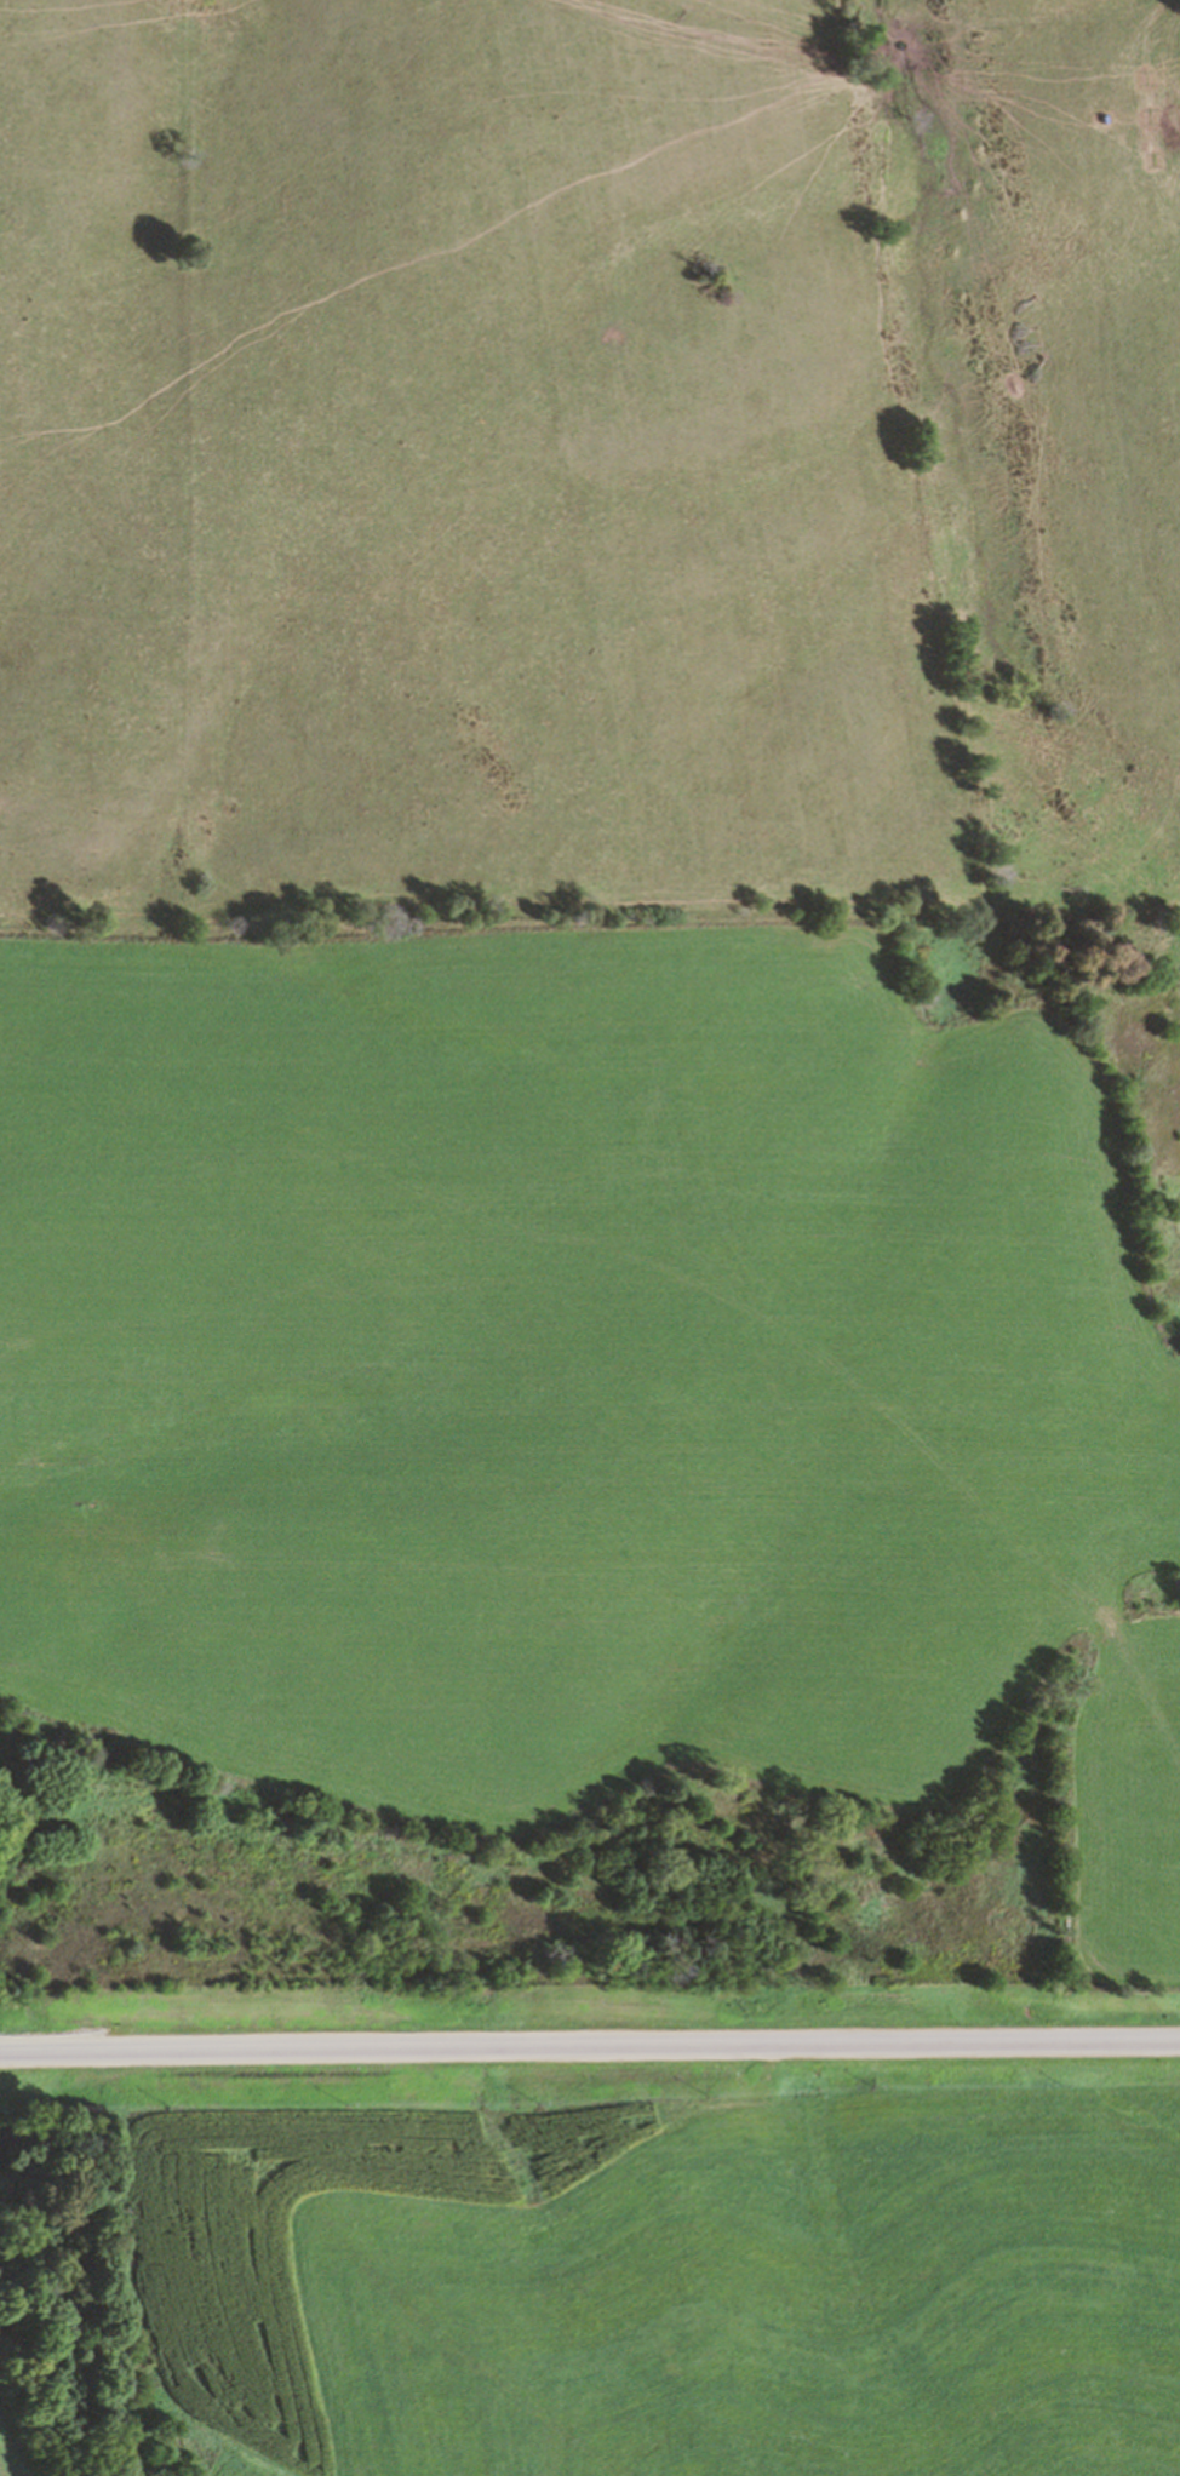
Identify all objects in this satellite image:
quarry: (21, 1905)
road: (589, 2044)

